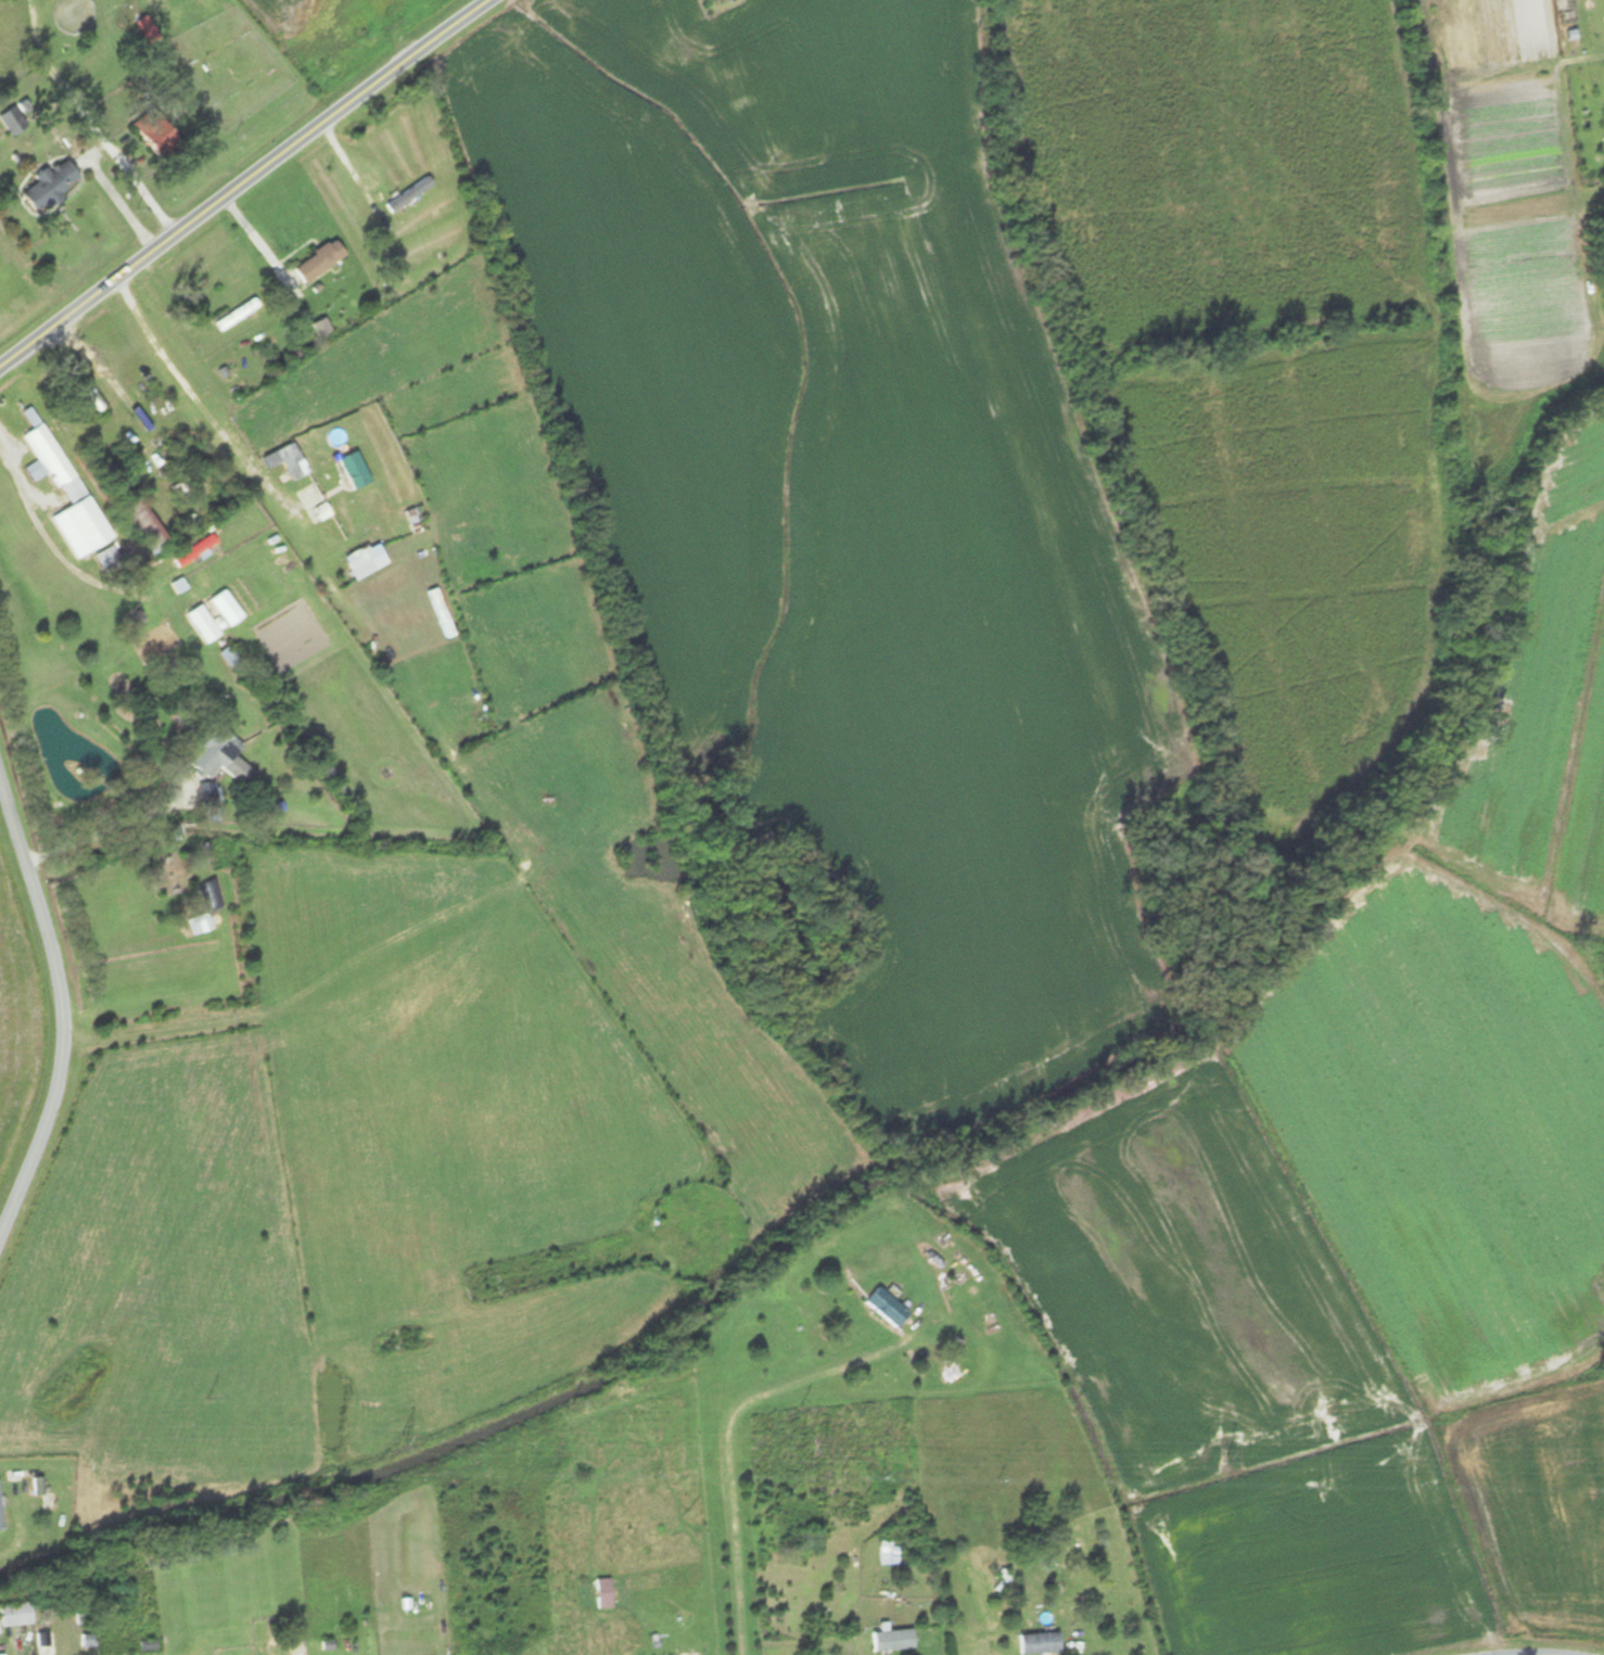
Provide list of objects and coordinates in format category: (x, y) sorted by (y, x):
building: (17, 120)
road: (91, 123)
building: (160, 133)
road: (245, 182)
building: (52, 186)
building: (410, 193)
building: (320, 260)
building: (139, 410)
building: (289, 460)
building: (356, 470)
building: (67, 493)
building: (145, 525)
building: (110, 559)
building: (370, 565)
building: (228, 608)
building: (204, 623)
building: (221, 754)
building: (209, 793)
building: (212, 895)
building: (201, 924)
road: (61, 1005)
building: (647, 1212)
building: (889, 1307)
power tower: (399, 1441)
power tower: (816, 1448)
power tower: (1222, 1456)
building: (34, 1485)
building: (1, 1514)
building: (811, 1541)
building: (890, 1554)
building: (604, 1593)
building: (17, 1614)
building: (894, 1641)
building: (1041, 1643)
road: (1540, 1654)

